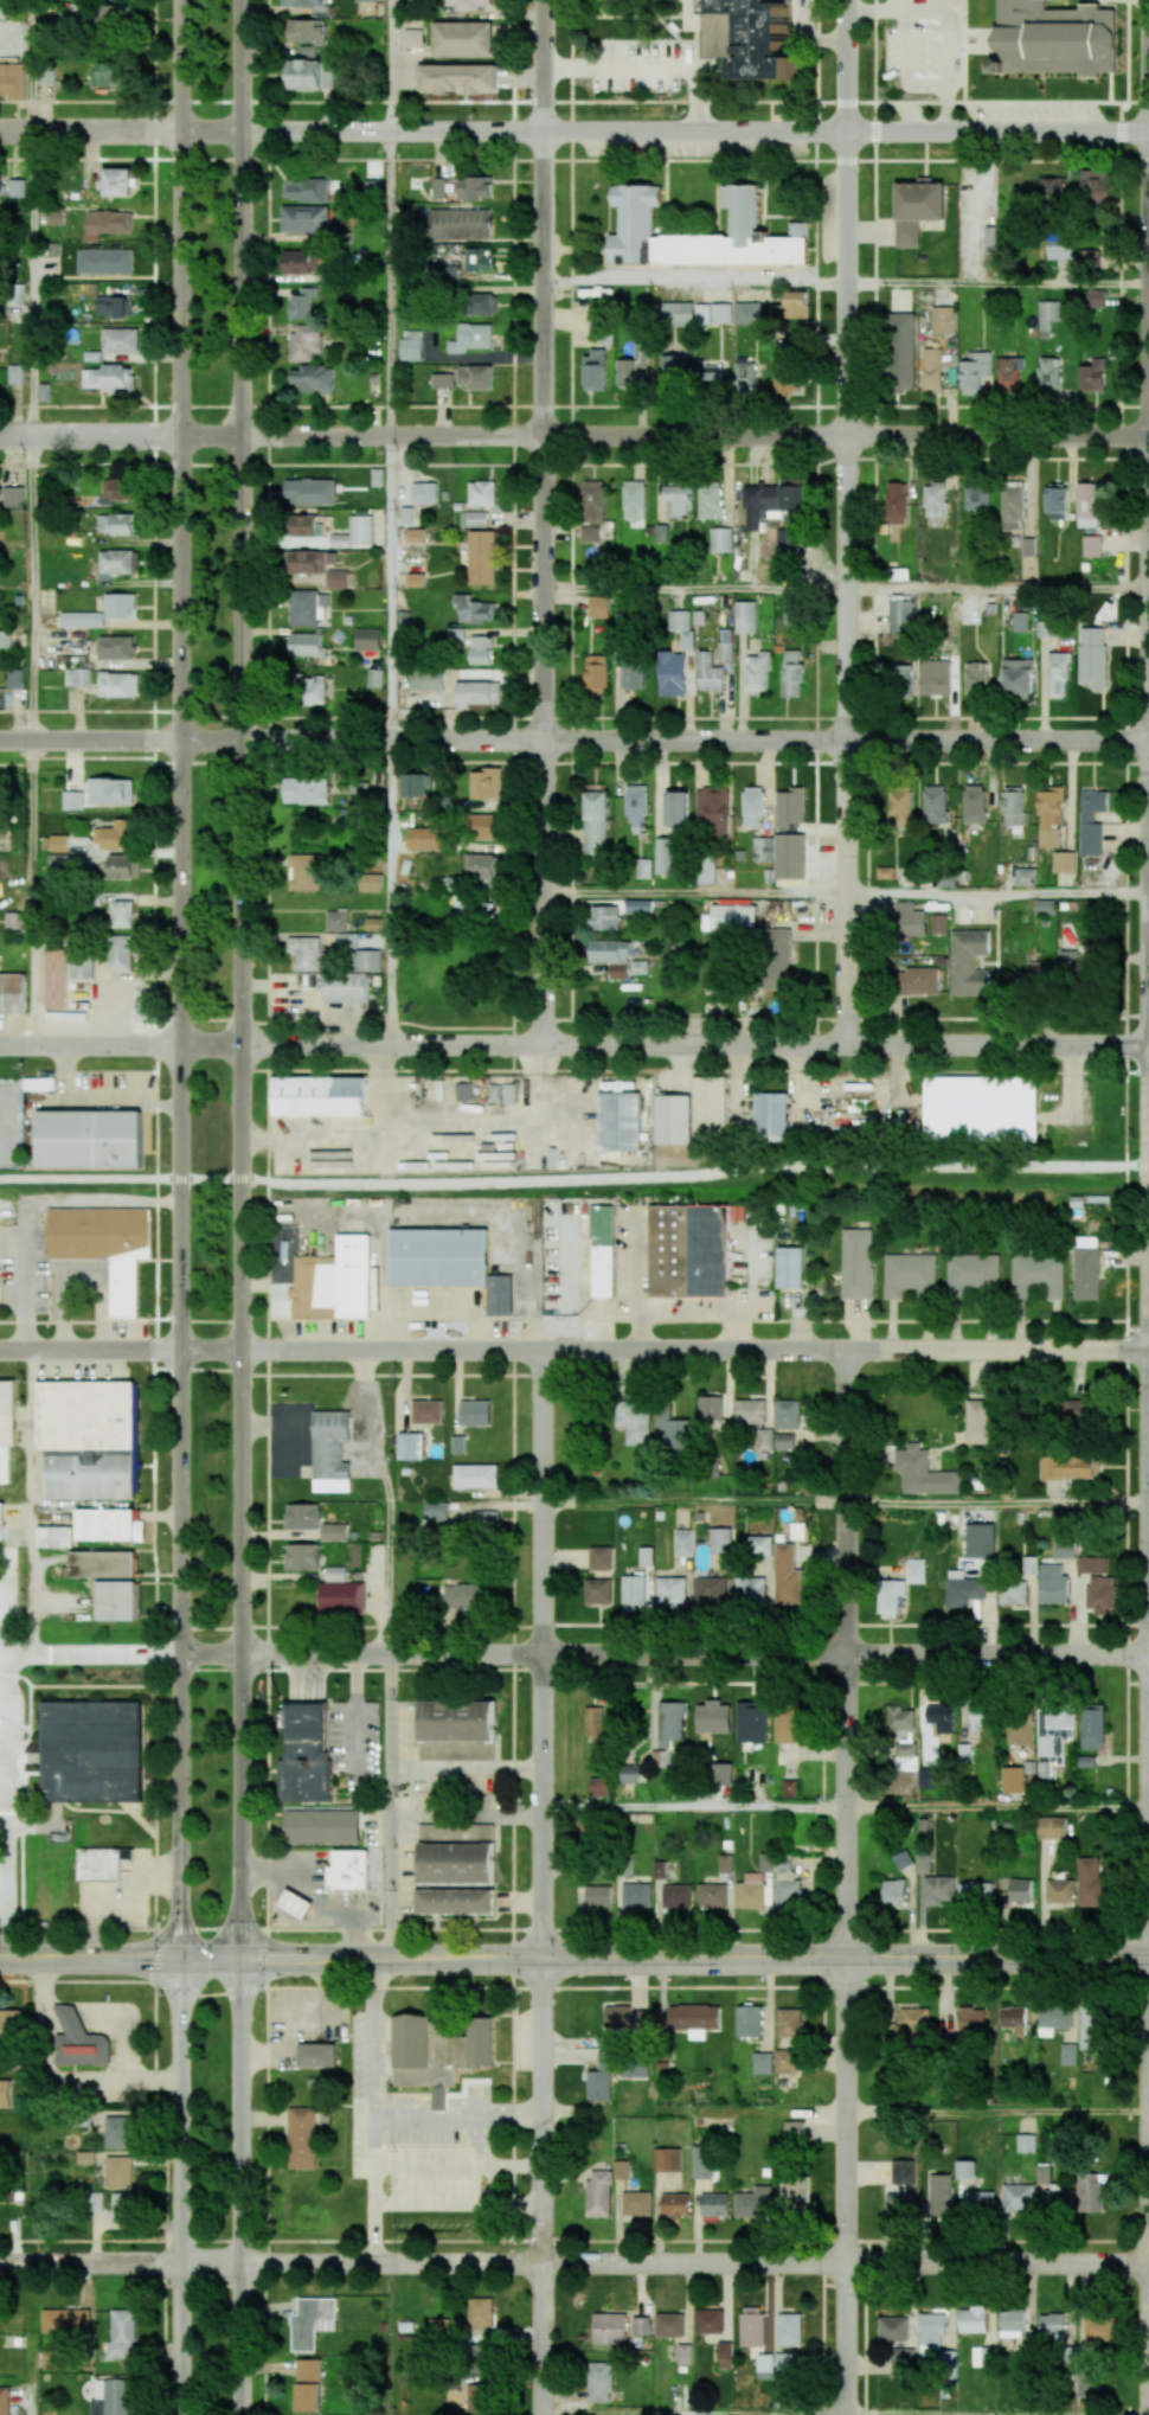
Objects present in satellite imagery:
building: (366, 0)
building: (467, 5)
building: (309, 6)
road: (877, 9)
building: (114, 14)
road: (805, 21)
road: (948, 27)
building: (307, 31)
building: (750, 37)
building: (412, 38)
building: (462, 38)
building: (1054, 38)
road: (833, 39)
road: (390, 65)
road: (906, 65)
road: (32, 66)
road: (654, 68)
building: (109, 73)
building: (309, 75)
building: (457, 77)
building: (13, 81)
road: (948, 109)
road: (90, 133)
road: (665, 133)
building: (117, 181)
building: (1096, 186)
building: (18, 187)
building: (438, 187)
building: (474, 187)
building: (306, 188)
building: (1052, 188)
building: (917, 209)
building: (56, 216)
building: (304, 219)
building: (1, 223)
building: (107, 223)
building: (458, 224)
building: (635, 226)
building: (1061, 244)
building: (479, 258)
building: (105, 260)
building: (1090, 260)
building: (301, 262)
building: (449, 275)
road: (390, 283)
road: (697, 283)
road: (31, 284)
road: (999, 284)
building: (15, 293)
building: (1097, 297)
building: (301, 303)
building: (482, 303)
building: (792, 306)
building: (1051, 309)
building: (721, 312)
building: (750, 312)
building: (678, 313)
building: (704, 313)
building: (602, 318)
building: (943, 318)
building: (473, 337)
building: (122, 339)
building: (304, 341)
building: (411, 348)
building: (900, 351)
building: (931, 369)
building: (595, 370)
building: (631, 370)
building: (673, 370)
building: (975, 371)
building: (1008, 372)
building: (17, 373)
building: (1048, 373)
building: (708, 374)
building: (475, 376)
building: (1093, 376)
building: (109, 378)
building: (314, 378)
building: (745, 378)
building: (787, 378)
building: (443, 380)
building: (45, 391)
road: (90, 437)
road: (665, 437)
building: (116, 489)
building: (309, 491)
building: (425, 493)
building: (482, 493)
building: (14, 497)
building: (976, 498)
building: (935, 499)
building: (592, 500)
building: (634, 500)
building: (678, 500)
building: (710, 501)
building: (1057, 501)
building: (770, 502)
building: (896, 502)
building: (1087, 505)
building: (1013, 507)
building: (473, 519)
road: (544, 523)
road: (848, 523)
building: (115, 524)
building: (306, 526)
building: (355, 533)
building: (416, 534)
building: (589, 534)
building: (720, 539)
building: (784, 544)
building: (1091, 546)
building: (482, 557)
building: (312, 560)
building: (116, 563)
building: (336, 578)
road: (31, 589)
road: (390, 589)
road: (695, 589)
road: (999, 589)
building: (121, 606)
building: (308, 607)
building: (598, 607)
building: (474, 609)
building: (791, 614)
building: (901, 614)
building: (745, 617)
building: (82, 619)
building: (1020, 621)
building: (682, 627)
building: (367, 639)
building: (306, 643)
building: (725, 645)
building: (115, 647)
building: (481, 649)
building: (1092, 656)
building: (672, 673)
building: (710, 673)
building: (757, 673)
building: (791, 673)
building: (596, 674)
building: (900, 674)
building: (1058, 674)
building: (633, 675)
building: (78, 677)
building: (935, 677)
building: (374, 678)
building: (976, 678)
building: (1016, 678)
building: (426, 679)
building: (118, 684)
building: (310, 690)
building: (476, 693)
road: (90, 742)
road: (665, 742)
building: (486, 783)
building: (412, 784)
building: (111, 790)
building: (304, 790)
building: (358, 790)
building: (72, 800)
building: (935, 803)
building: (974, 803)
building: (1013, 805)
building: (752, 806)
building: (900, 806)
building: (790, 807)
building: (636, 808)
building: (676, 808)
building: (711, 812)
building: (1049, 818)
building: (1091, 821)
building: (593, 822)
building: (482, 826)
building: (424, 838)
building: (58, 843)
building: (763, 848)
building: (663, 856)
building: (790, 856)
building: (58, 860)
building: (1064, 861)
building: (123, 866)
building: (480, 866)
building: (705, 870)
building: (304, 871)
building: (1026, 876)
building: (370, 882)
road: (695, 891)
road: (997, 892)
road: (31, 893)
road: (390, 893)
building: (638, 907)
building: (462, 908)
building: (121, 914)
building: (604, 917)
building: (733, 917)
building: (14, 918)
building: (910, 920)
building: (336, 921)
building: (939, 923)
building: (346, 940)
building: (306, 952)
building: (118, 953)
building: (611, 956)
building: (776, 959)
building: (367, 960)
building: (968, 962)
building: (82, 965)
building: (640, 967)
building: (1084, 974)
building: (56, 978)
road: (180, 979)
road: (240, 979)
building: (1029, 979)
building: (916, 981)
building: (345, 987)
building: (12, 993)
road: (120, 1046)
road: (694, 1046)
building: (463, 1091)
building: (502, 1094)
building: (317, 1096)
building: (708, 1107)
building: (981, 1108)
building: (770, 1116)
building: (673, 1119)
building: (620, 1121)
building: (89, 1139)
road: (1148, 1167)
road: (573, 1173)
road: (73, 1202)
road: (155, 1207)
park: (211, 1207)
road: (268, 1207)
building: (104, 1245)
building: (689, 1250)
building: (602, 1251)
building: (448, 1263)
building: (855, 1263)
building: (789, 1267)
building: (1085, 1268)
building: (971, 1273)
building: (909, 1275)
building: (1036, 1275)
building: (334, 1281)
road: (26, 1287)
road: (102, 1296)
road: (1148, 1306)
road: (63, 1312)
road: (688, 1312)
road: (601, 1313)
road: (556, 1327)
road: (120, 1351)
road: (694, 1351)
building: (710, 1408)
building: (426, 1411)
building: (750, 1411)
building: (1074, 1411)
building: (475, 1413)
building: (787, 1414)
building: (635, 1421)
building: (977, 1421)
building: (7, 1427)
building: (670, 1431)
building: (86, 1439)
building: (764, 1439)
building: (784, 1441)
building: (410, 1446)
building: (330, 1452)
building: (1070, 1467)
building: (923, 1473)
building: (475, 1475)
road: (694, 1501)
road: (30, 1503)
road: (997, 1504)
building: (436, 1510)
building: (301, 1516)
building: (486, 1518)
building: (1, 1522)
building: (108, 1525)
building: (333, 1532)
building: (54, 1536)
building: (720, 1540)
building: (980, 1540)
building: (683, 1542)
building: (759, 1545)
building: (1064, 1548)
building: (302, 1556)
building: (599, 1557)
building: (102, 1563)
building: (1028, 1564)
building: (1091, 1564)
building: (914, 1570)
building: (787, 1576)
road: (386, 1577)
building: (1052, 1584)
building: (750, 1589)
building: (963, 1589)
building: (710, 1590)
building: (598, 1591)
building: (1012, 1591)
building: (340, 1593)
building: (633, 1593)
building: (669, 1593)
building: (1099, 1593)
building: (464, 1596)
building: (890, 1597)
building: (115, 1600)
road: (543, 1653)
road: (847, 1654)
road: (573, 1655)
building: (981, 1716)
building: (713, 1717)
building: (899, 1717)
building: (941, 1718)
building: (456, 1719)
building: (593, 1721)
building: (751, 1722)
building: (670, 1723)
building: (1092, 1727)
building: (787, 1728)
building: (1019, 1729)
building: (1052, 1738)
road: (8, 1742)
building: (456, 1750)
building: (91, 1751)
building: (304, 1755)
building: (905, 1756)
road: (464, 1768)
building: (629, 1773)
building: (720, 1774)
building: (930, 1777)
building: (1012, 1780)
building: (599, 1786)
building: (789, 1788)
road: (387, 1806)
road: (694, 1808)
road: (997, 1808)
road: (464, 1818)
building: (321, 1826)
building: (1052, 1827)
building: (456, 1853)
building: (901, 1860)
building: (923, 1862)
building: (102, 1863)
building: (725, 1863)
building: (348, 1870)
building: (659, 1870)
building: (1091, 1881)
road: (1147, 1883)
building: (787, 1884)
road: (6, 1889)
building: (938, 1889)
building: (1021, 1889)
building: (894, 1890)
building: (1060, 1890)
building: (751, 1891)
building: (975, 1892)
building: (636, 1895)
building: (712, 1895)
building: (599, 1896)
building: (676, 1896)
road: (117, 1900)
building: (454, 1901)
building: (295, 1904)
road: (650, 1929)
road: (90, 1958)
traffic signals: (180, 1958)
road: (210, 1958)
traffic signals: (240, 1958)
road: (694, 1958)
road: (210, 1994)
building: (625, 2018)
building: (1013, 2018)
building: (1053, 2018)
road: (52, 2019)
road: (72, 2019)
building: (749, 2020)
building: (11, 2022)
building: (789, 2022)
building: (971, 2022)
building: (911, 2024)
building: (1089, 2028)
road: (129, 2029)
building: (78, 2041)
building: (439, 2051)
building: (1067, 2054)
building: (316, 2055)
building: (787, 2061)
building: (762, 2063)
building: (601, 2077)
road: (50, 2081)
building: (5, 2093)
road: (693, 2112)
road: (995, 2112)
road: (1148, 2112)
road: (486, 2114)
road: (428, 2120)
building: (118, 2132)
building: (794, 2132)
building: (301, 2138)
building: (1026, 2142)
building: (667, 2159)
building: (701, 2161)
road: (375, 2163)
road: (458, 2167)
building: (621, 2170)
building: (965, 2170)
building: (903, 2171)
building: (118, 2172)
building: (1044, 2174)
road: (180, 2186)
road: (240, 2186)
road: (495, 2186)
road: (543, 2186)
road: (843, 2186)
road: (1147, 2186)
building: (796, 2190)
building: (1091, 2192)
building: (941, 2193)
building: (598, 2195)
building: (1018, 2198)
building: (1059, 2199)
building: (980, 2202)
building: (636, 2203)
building: (753, 2203)
building: (714, 2204)
building: (675, 2205)
building: (898, 2205)
building: (124, 2206)
road: (377, 2234)
road: (663, 2263)
road: (90, 2265)
building: (480, 2312)
building: (973, 2319)
building: (65, 2320)
building: (708, 2320)
building: (312, 2321)
building: (669, 2324)
building: (1012, 2324)
building: (1052, 2324)
building: (641, 2325)
building: (752, 2326)
building: (609, 2328)
building: (893, 2328)
building: (1098, 2328)
building: (789, 2330)
building: (931, 2333)
building: (122, 2334)
road: (31, 2339)
building: (683, 2353)
building: (725, 2355)
building: (982, 2356)
building: (51, 2358)
building: (901, 2362)
building: (785, 2363)
building: (764, 2366)
building: (599, 2381)
building: (308, 2385)
building: (1086, 2387)
building: (471, 2394)
building: (110, 2396)
building: (4, 2400)
road: (1148, 2414)

